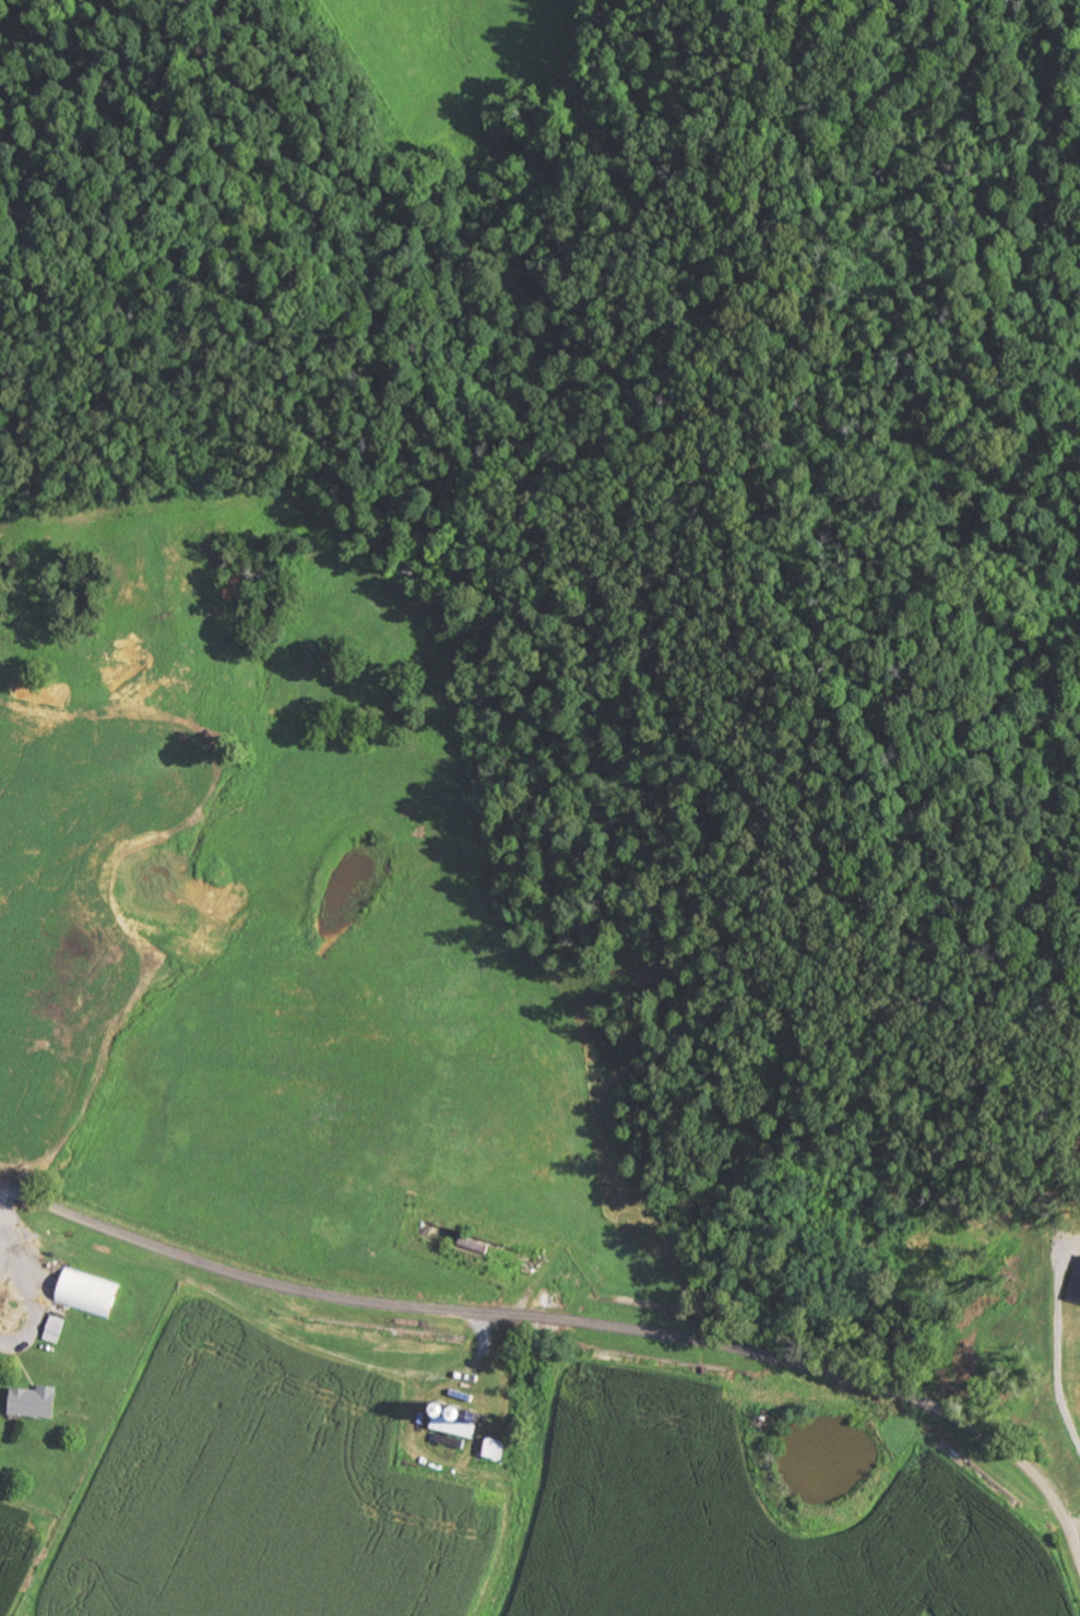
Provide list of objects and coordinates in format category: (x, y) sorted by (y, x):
building: (86, 1295)
road: (567, 1322)
building: (51, 1330)
building: (34, 1403)
building: (456, 1421)
building: (495, 1449)

